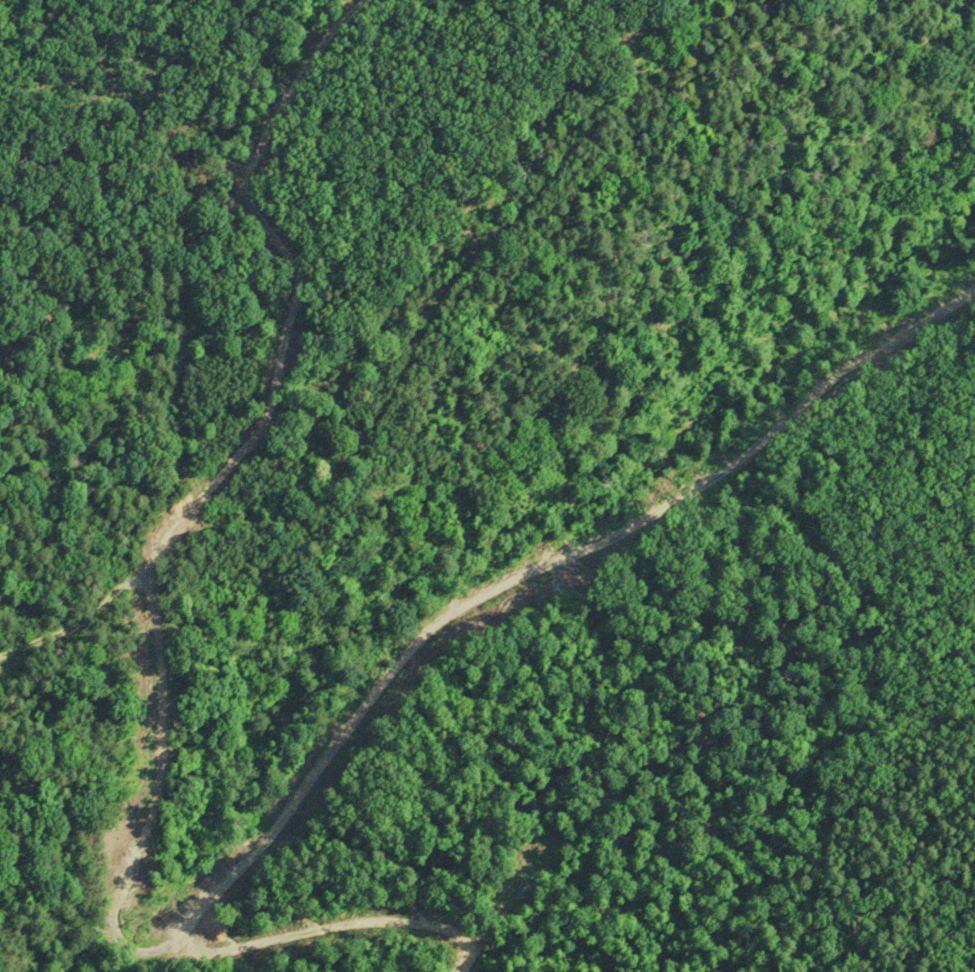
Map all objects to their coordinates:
building: (273, 532)
road: (406, 668)

